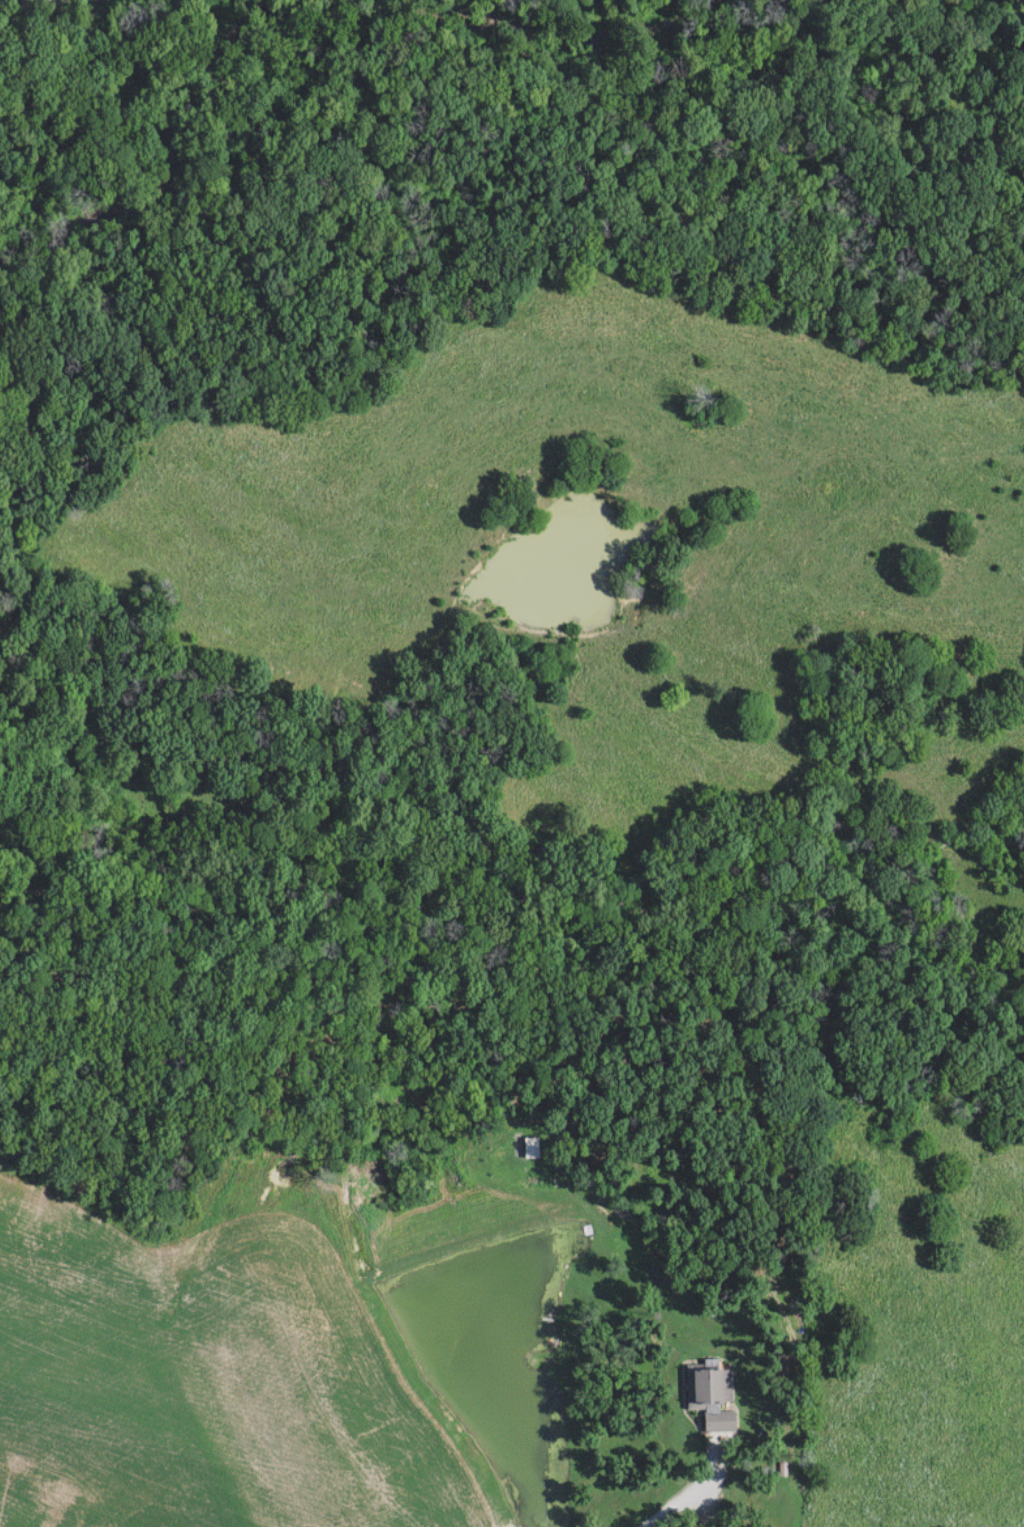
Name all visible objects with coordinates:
building: (707, 1394)
road: (673, 1505)

